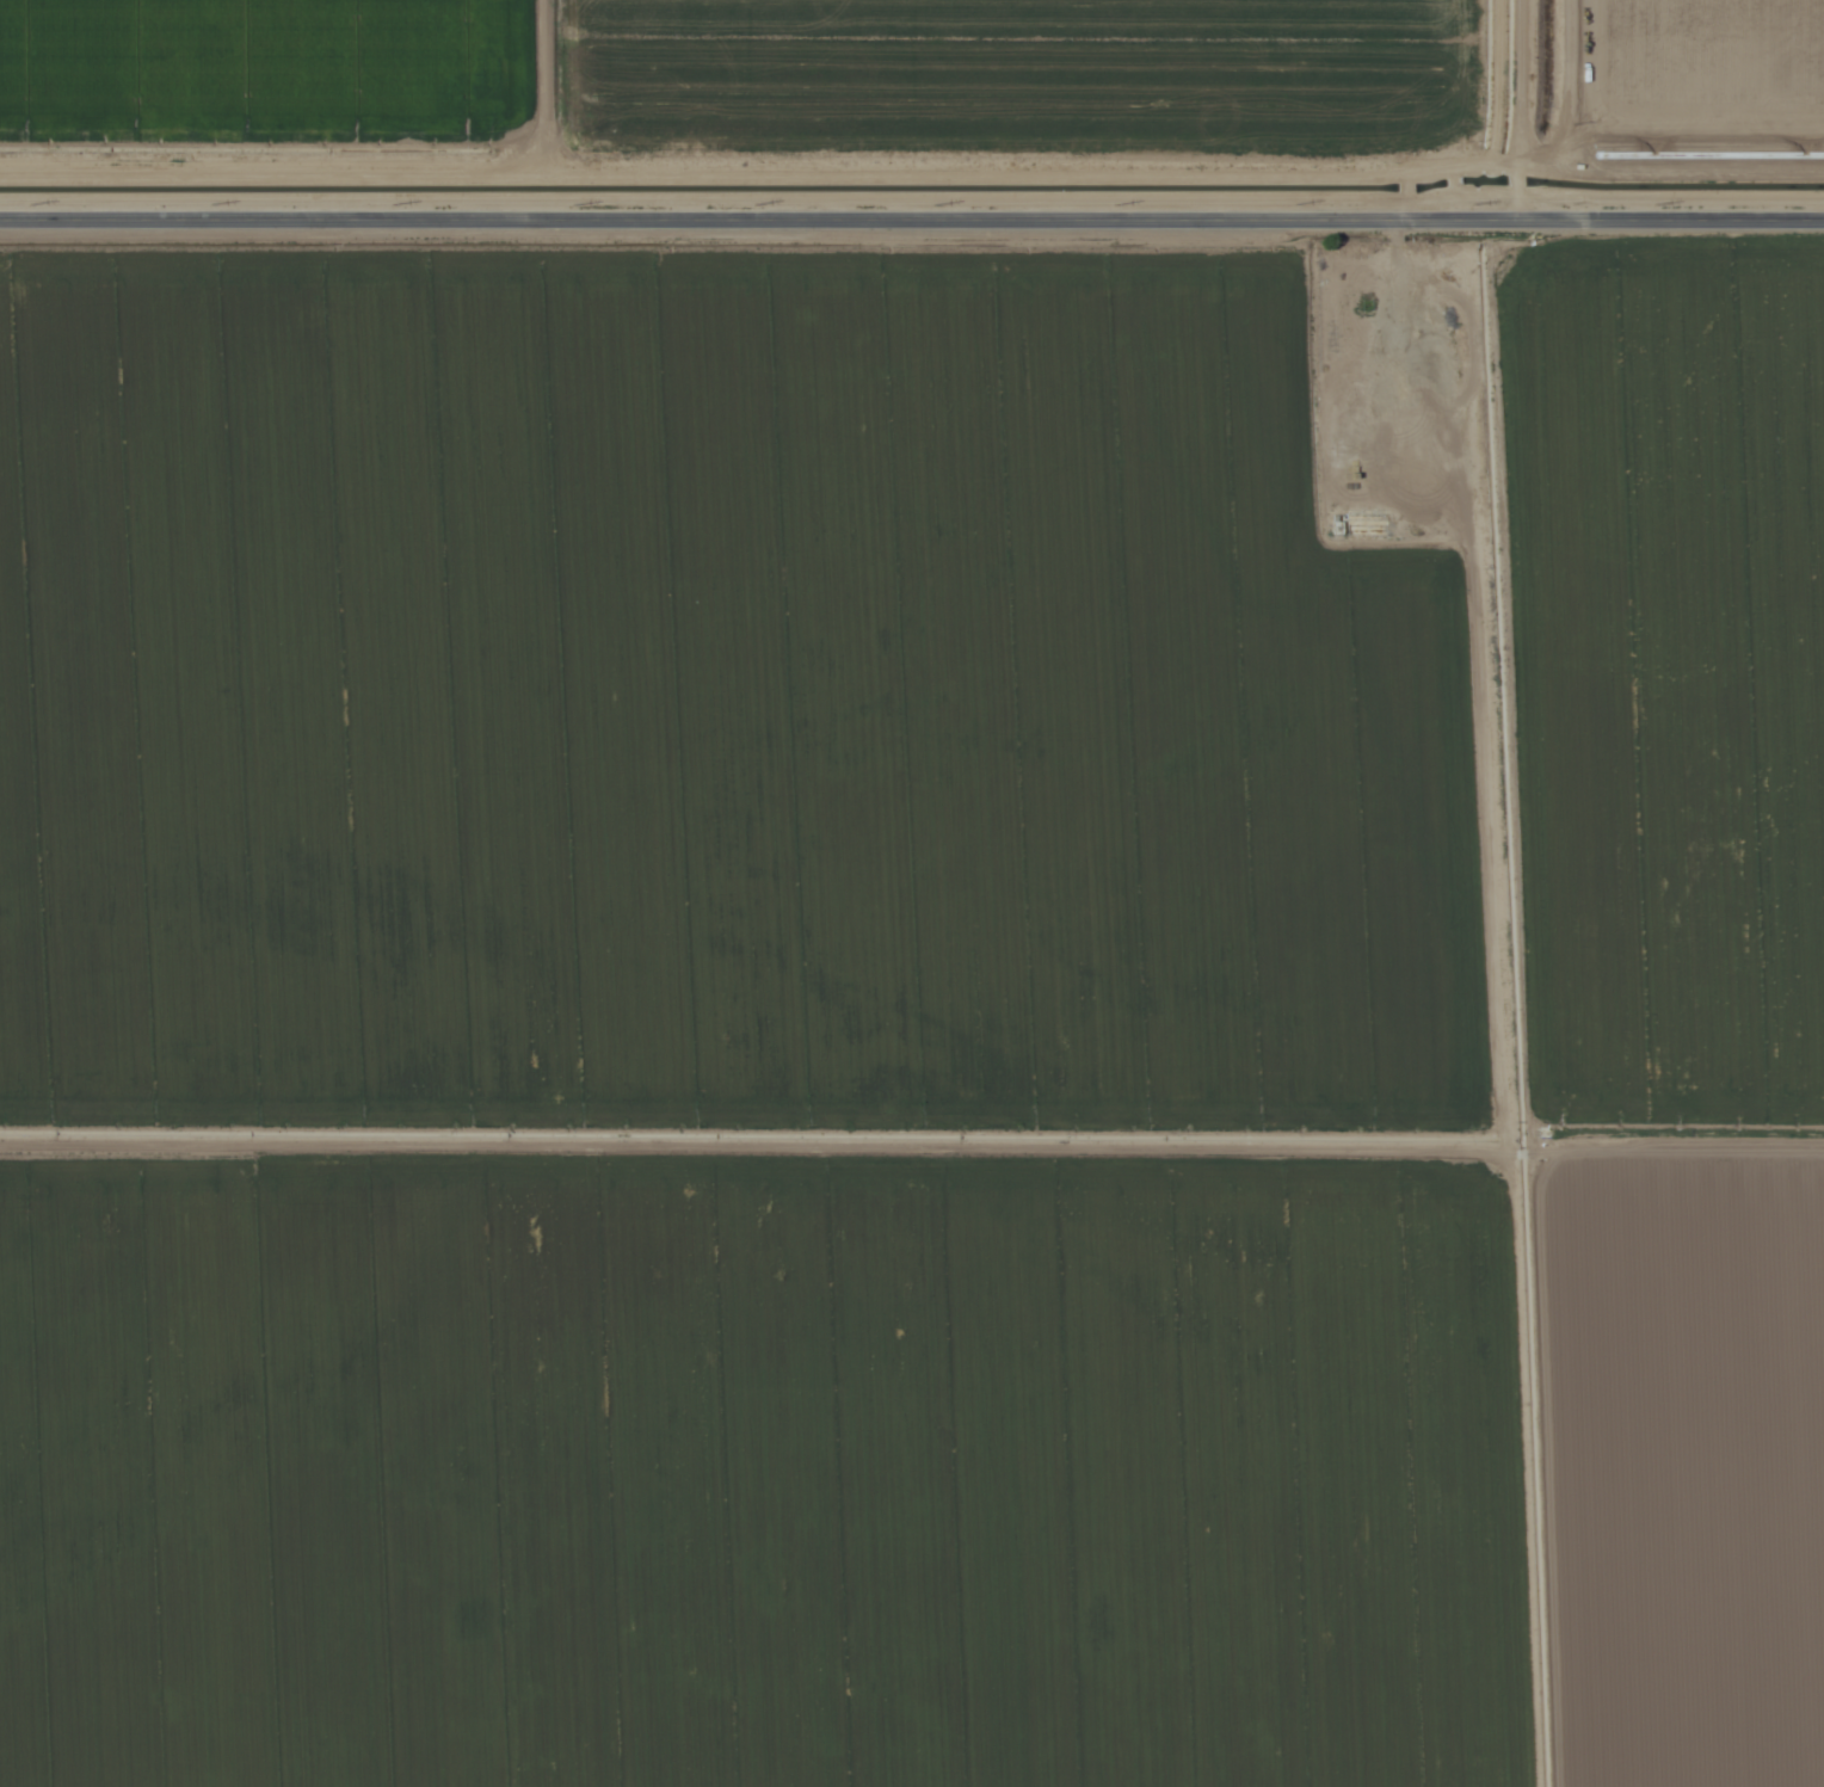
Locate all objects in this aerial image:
road: (912, 215)
building: (1388, 494)
crop: (1664, 686)

